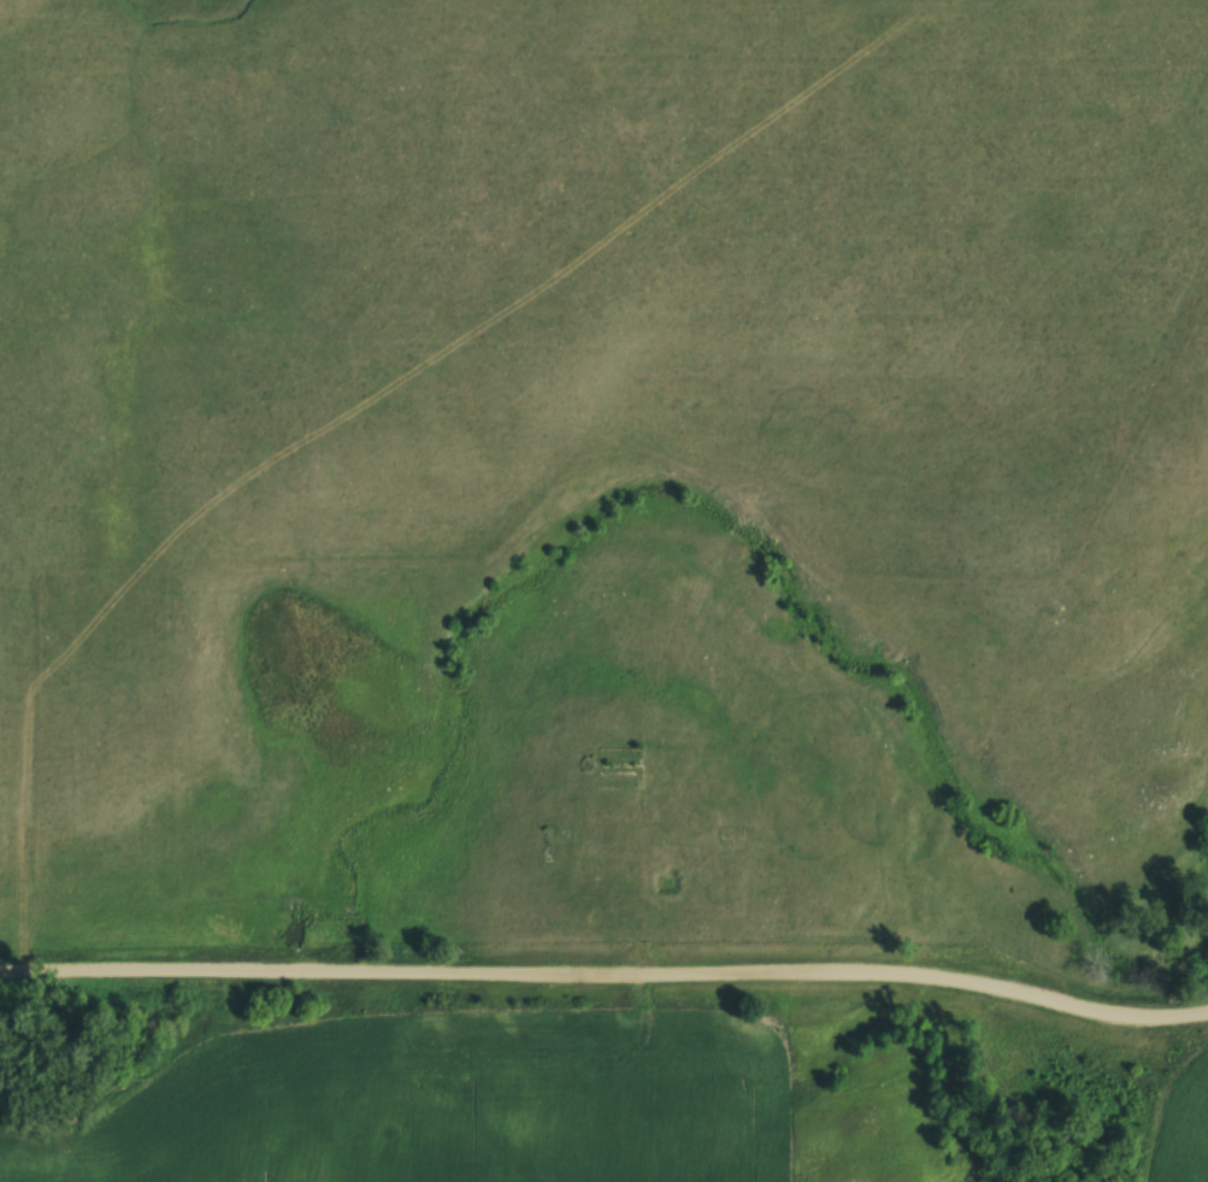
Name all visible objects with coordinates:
road: (606, 966)

